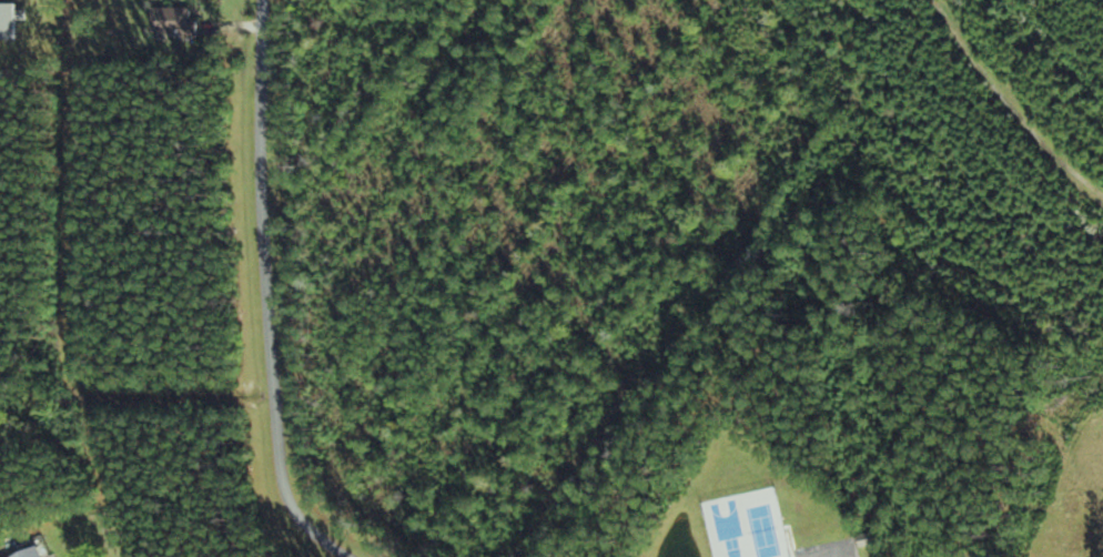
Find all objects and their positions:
building: (176, 21)
road: (274, 292)
building: (870, 540)
building: (37, 554)

